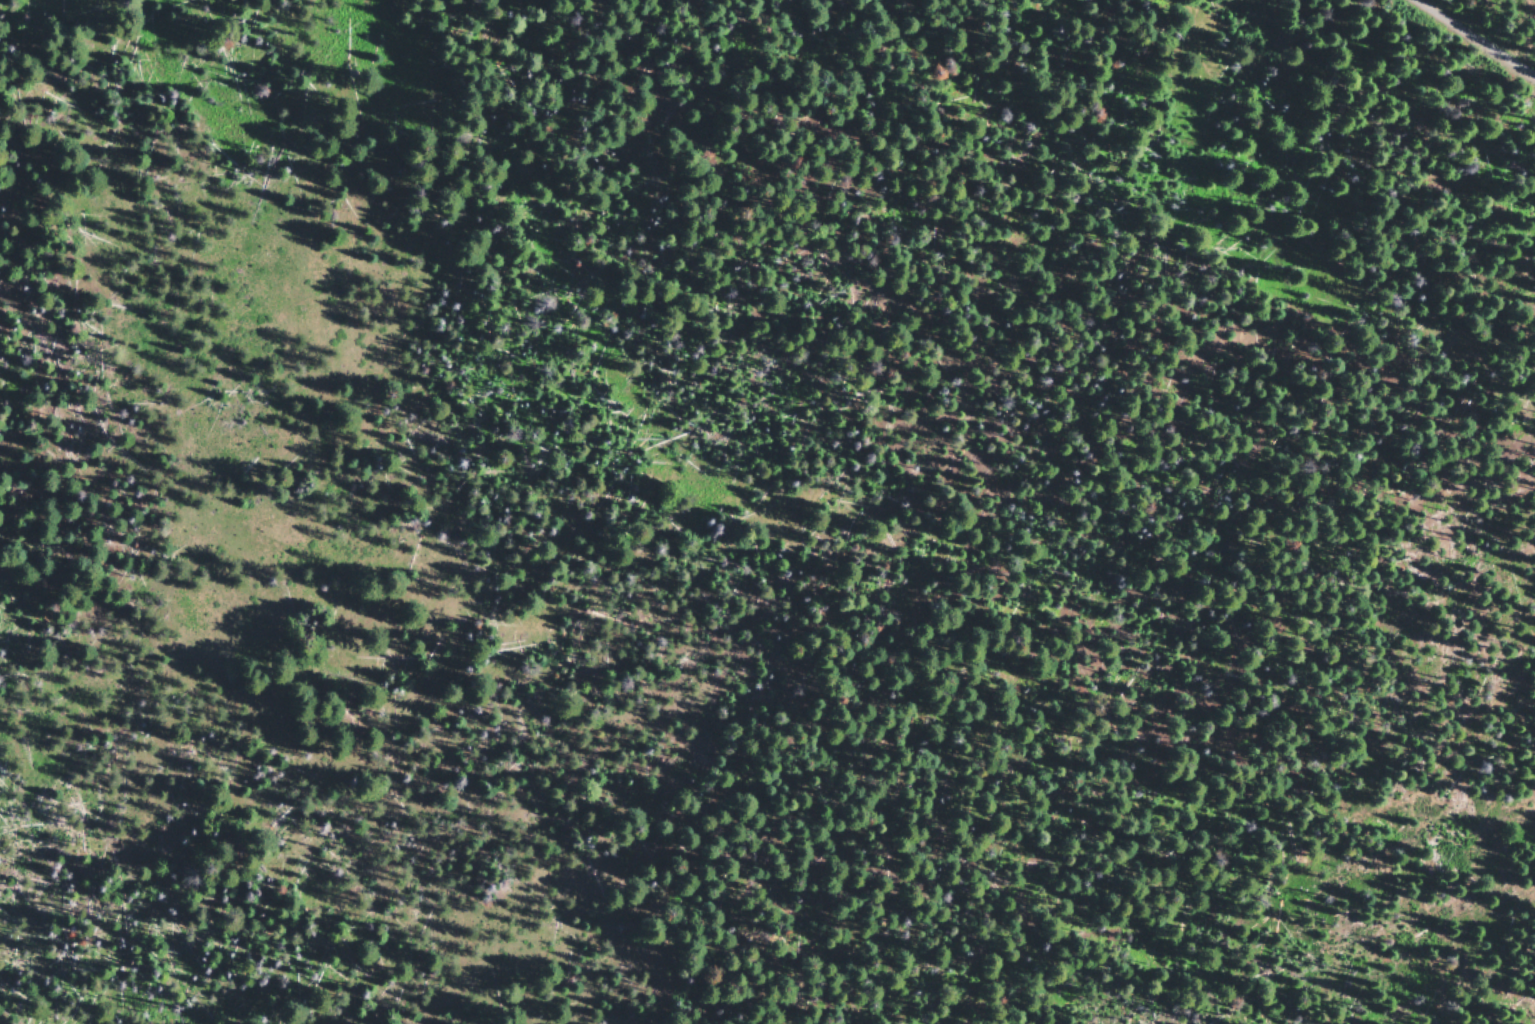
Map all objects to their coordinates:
road: (1503, 19)

